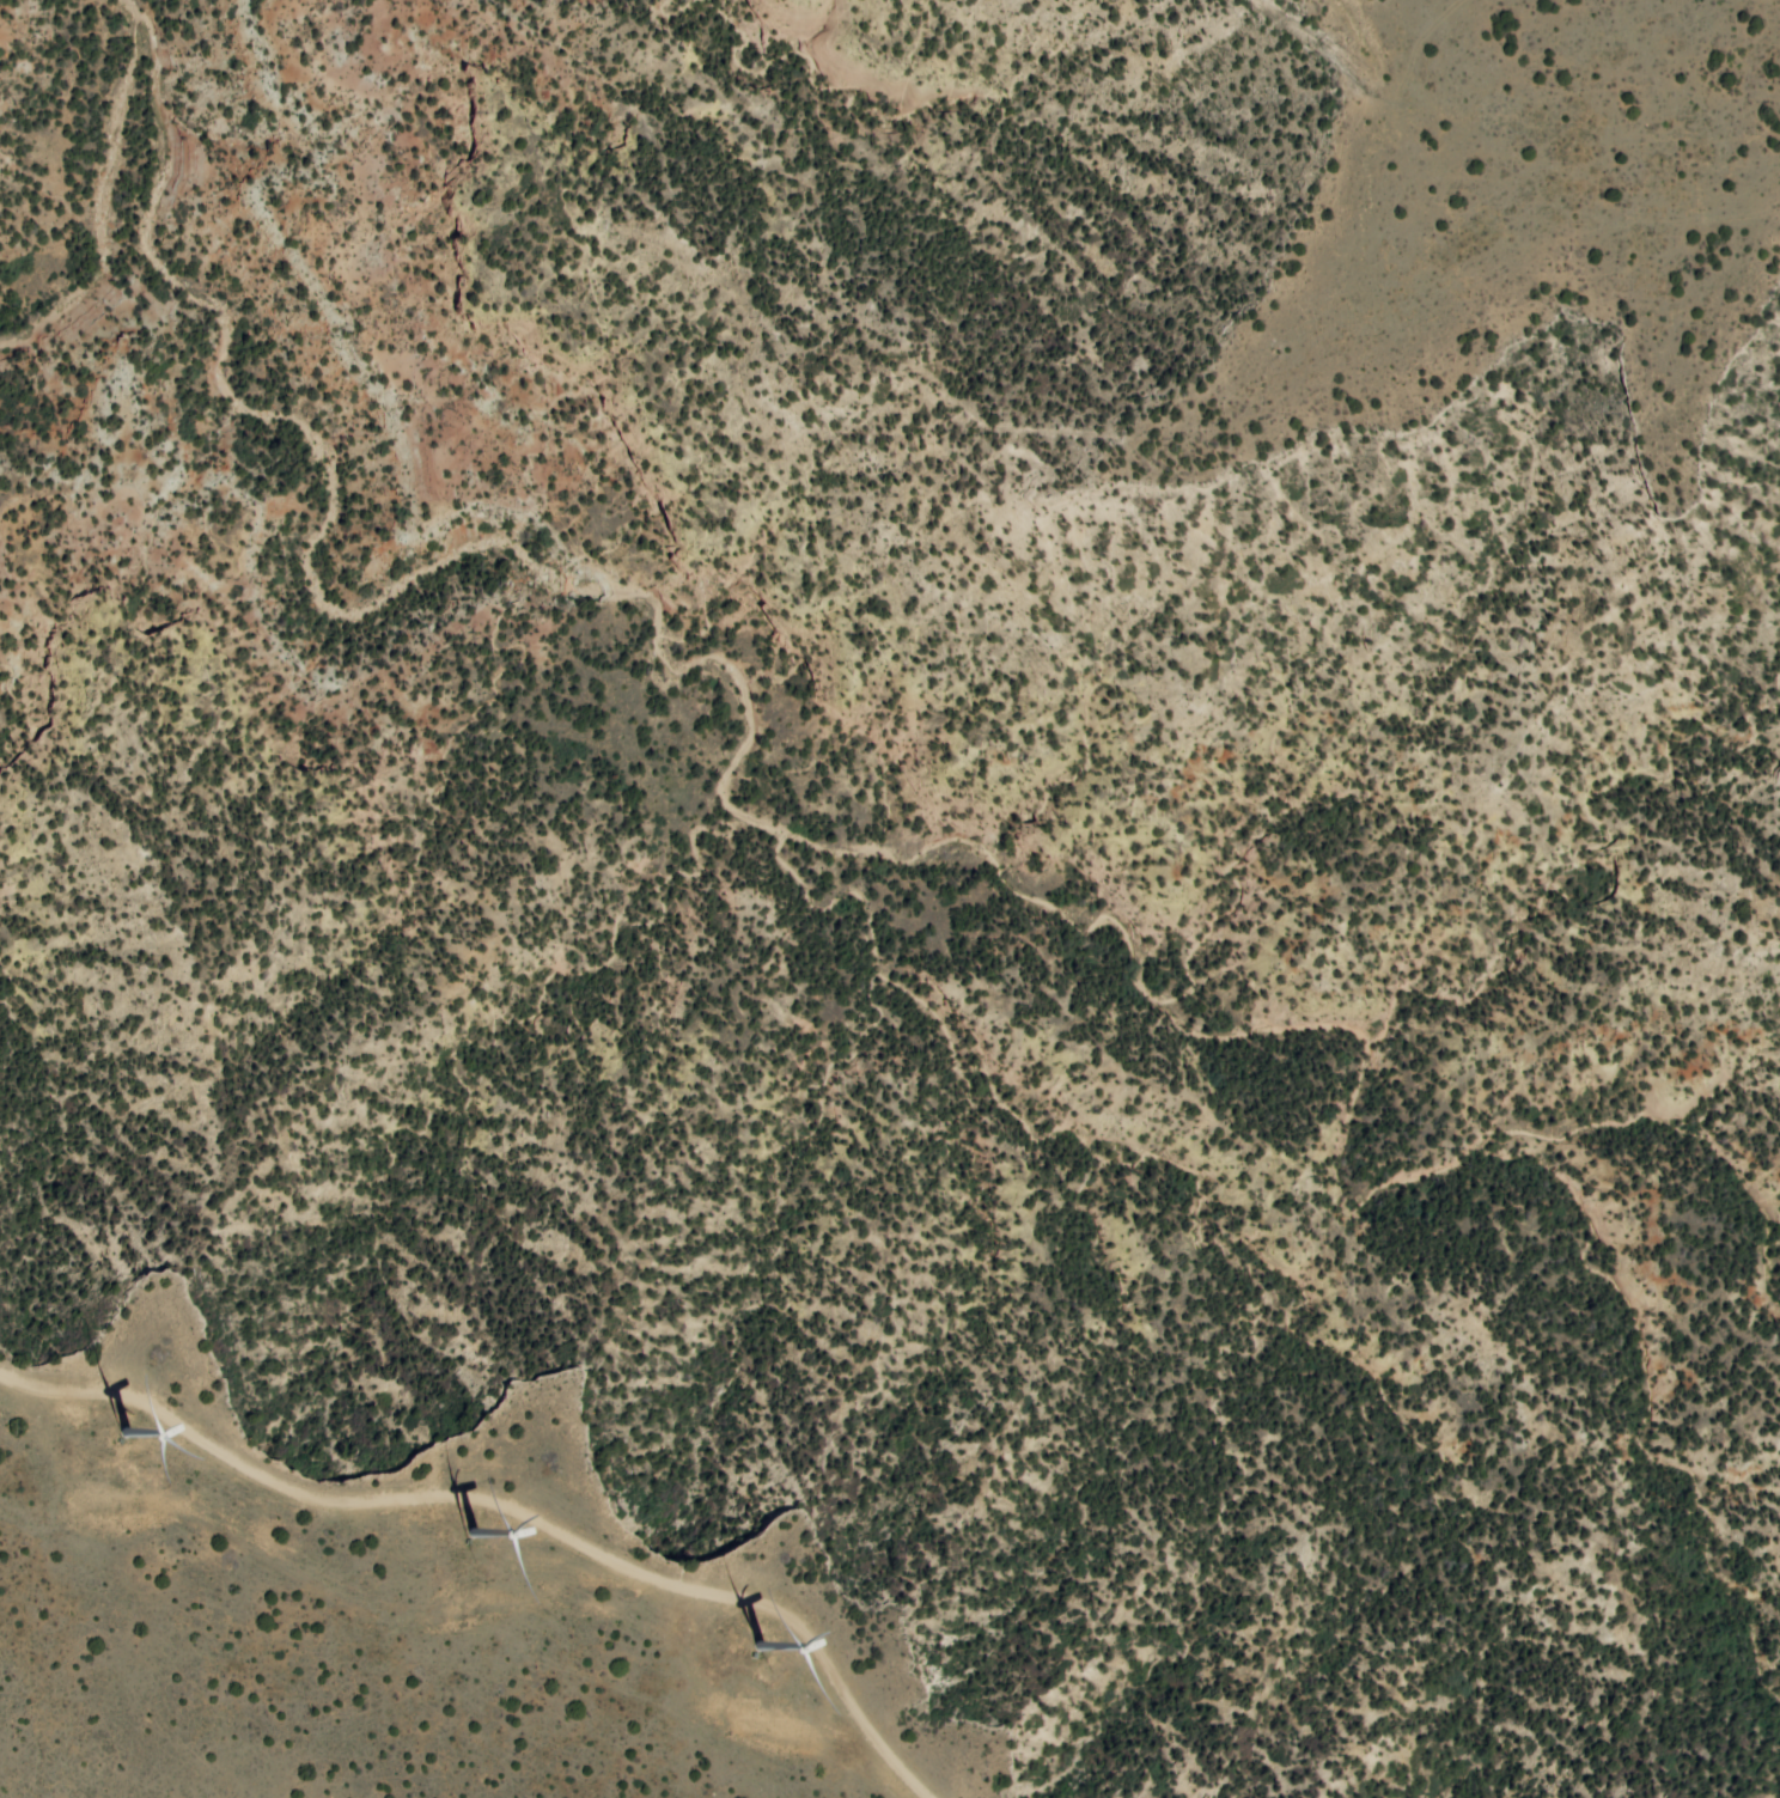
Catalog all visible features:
road: (1378, 352)
wind turbine: (126, 1434)
road: (502, 1509)
wind turbine: (473, 1536)
wind turbine: (761, 1647)

